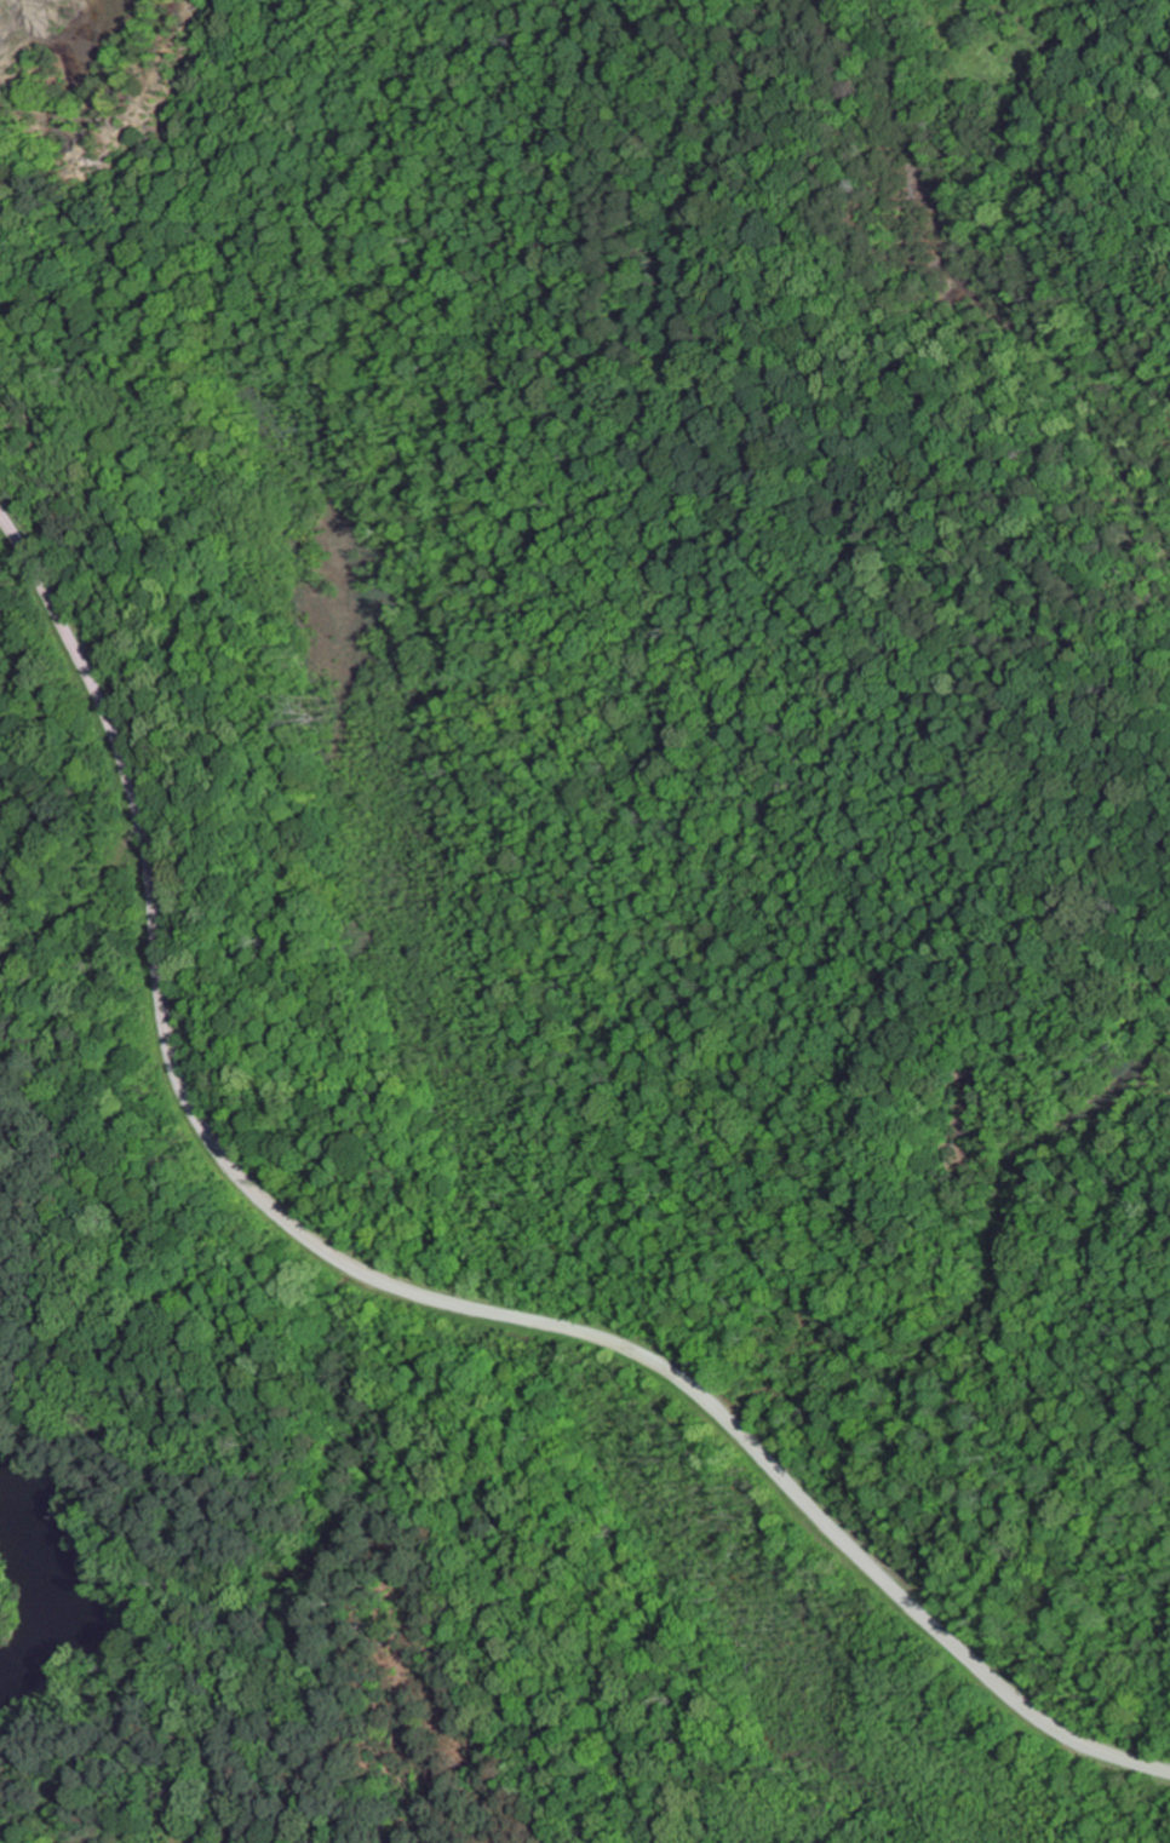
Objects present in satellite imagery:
road: (408, 1292)

